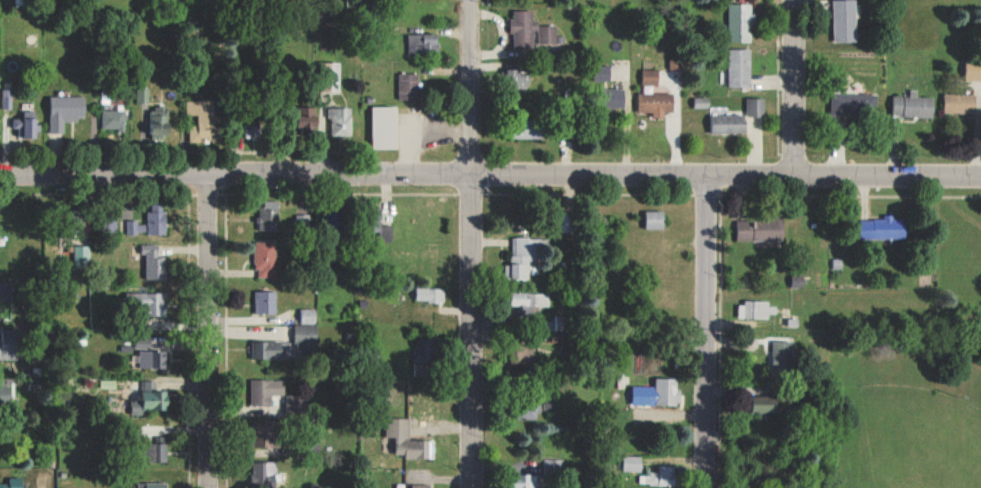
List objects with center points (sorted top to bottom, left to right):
building: (845, 21)
building: (740, 22)
building: (534, 33)
building: (423, 44)
building: (740, 67)
building: (973, 70)
building: (651, 77)
building: (517, 79)
building: (409, 86)
road: (791, 88)
building: (142, 95)
building: (617, 98)
building: (6, 99)
building: (702, 102)
building: (657, 103)
building: (960, 103)
building: (851, 105)
building: (913, 106)
building: (756, 107)
building: (65, 111)
building: (113, 119)
building: (307, 120)
building: (161, 121)
building: (204, 121)
building: (341, 121)
building: (730, 123)
building: (385, 127)
building: (26, 128)
building: (253, 128)
building: (531, 128)
road: (490, 174)
building: (269, 214)
building: (157, 219)
building: (655, 219)
building: (135, 227)
building: (760, 228)
building: (884, 228)
road: (468, 243)
building: (82, 256)
building: (524, 256)
building: (266, 259)
building: (154, 262)
building: (6, 291)
building: (430, 294)
building: (266, 302)
building: (528, 303)
building: (157, 304)
building: (755, 310)
building: (308, 316)
building: (557, 322)
road: (204, 331)
road: (703, 333)
building: (306, 338)
building: (10, 344)
building: (271, 350)
building: (151, 355)
building: (783, 357)
building: (425, 358)
building: (148, 385)
building: (265, 391)
building: (5, 392)
building: (656, 393)
building: (151, 402)
building: (766, 404)
building: (529, 413)
building: (264, 434)
building: (407, 440)
building: (158, 453)
building: (633, 463)
building: (265, 474)
building: (659, 476)
building: (528, 481)
building: (13, 483)
building: (154, 485)
building: (421, 486)

